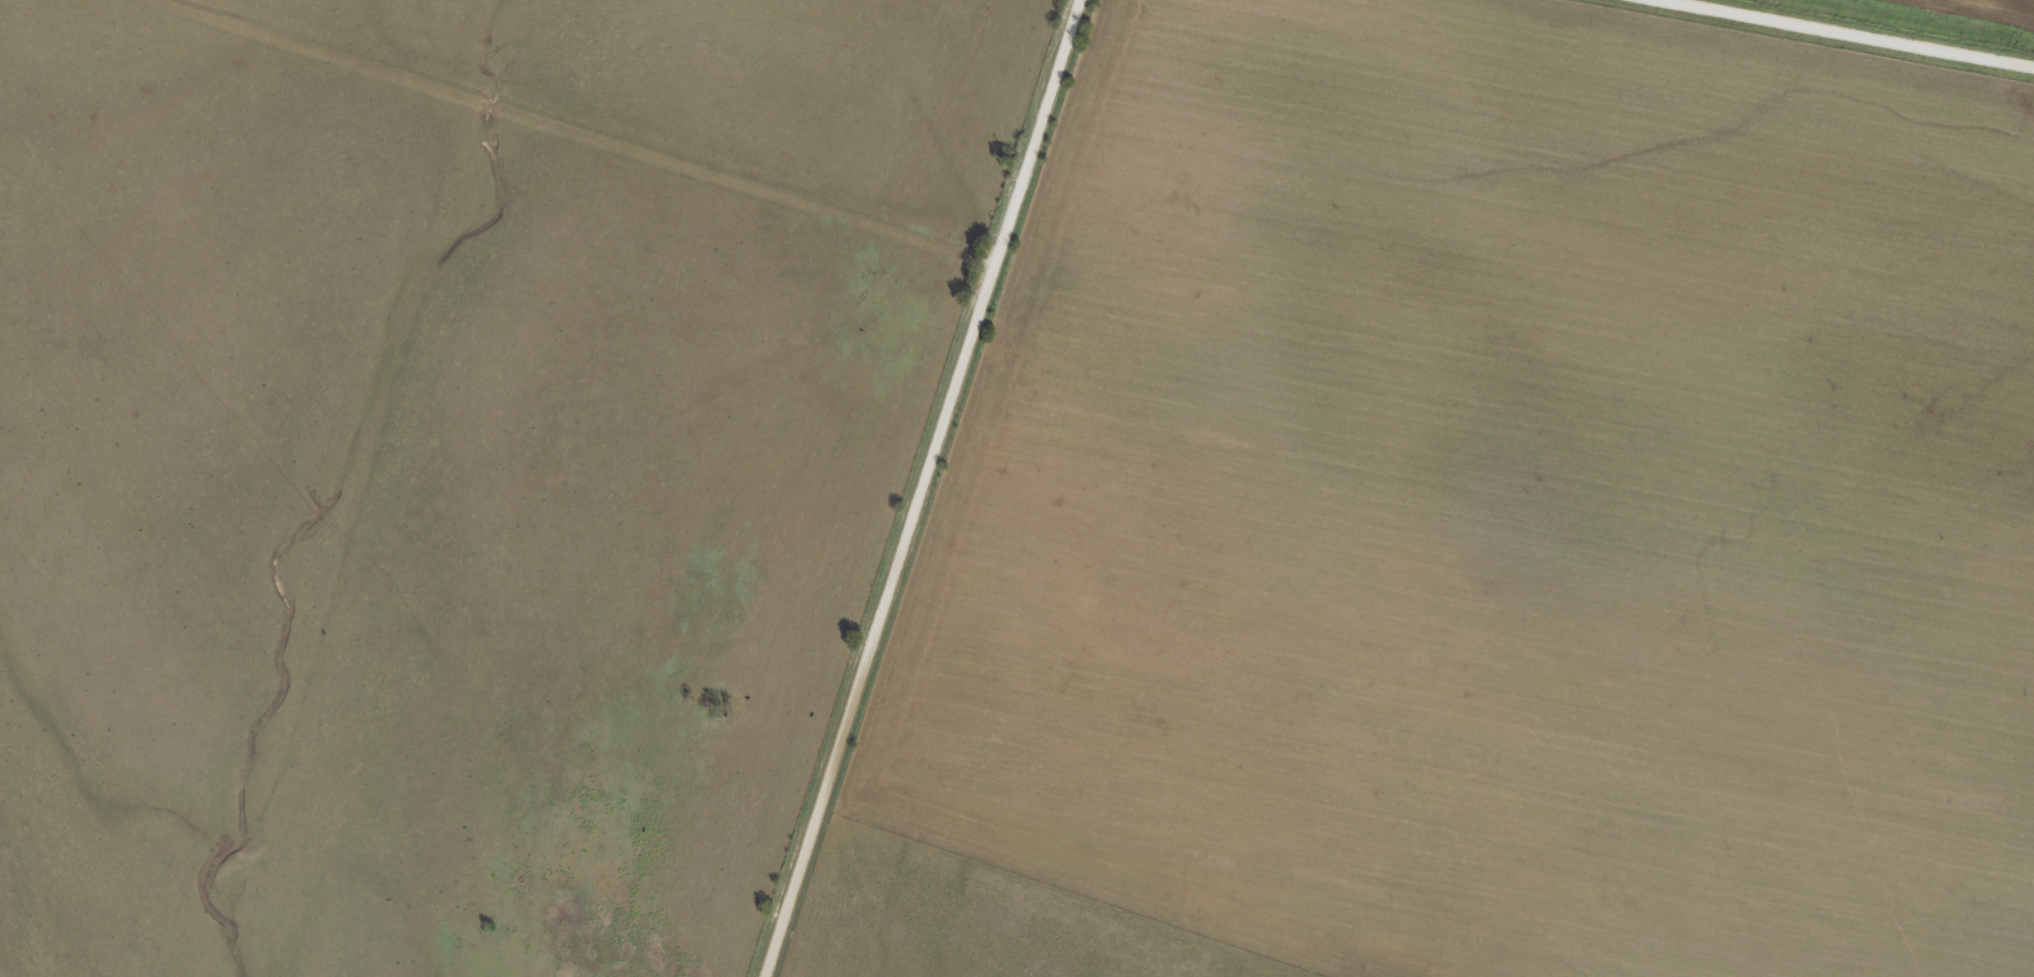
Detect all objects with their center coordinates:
road: (1848, 33)
road: (927, 488)

